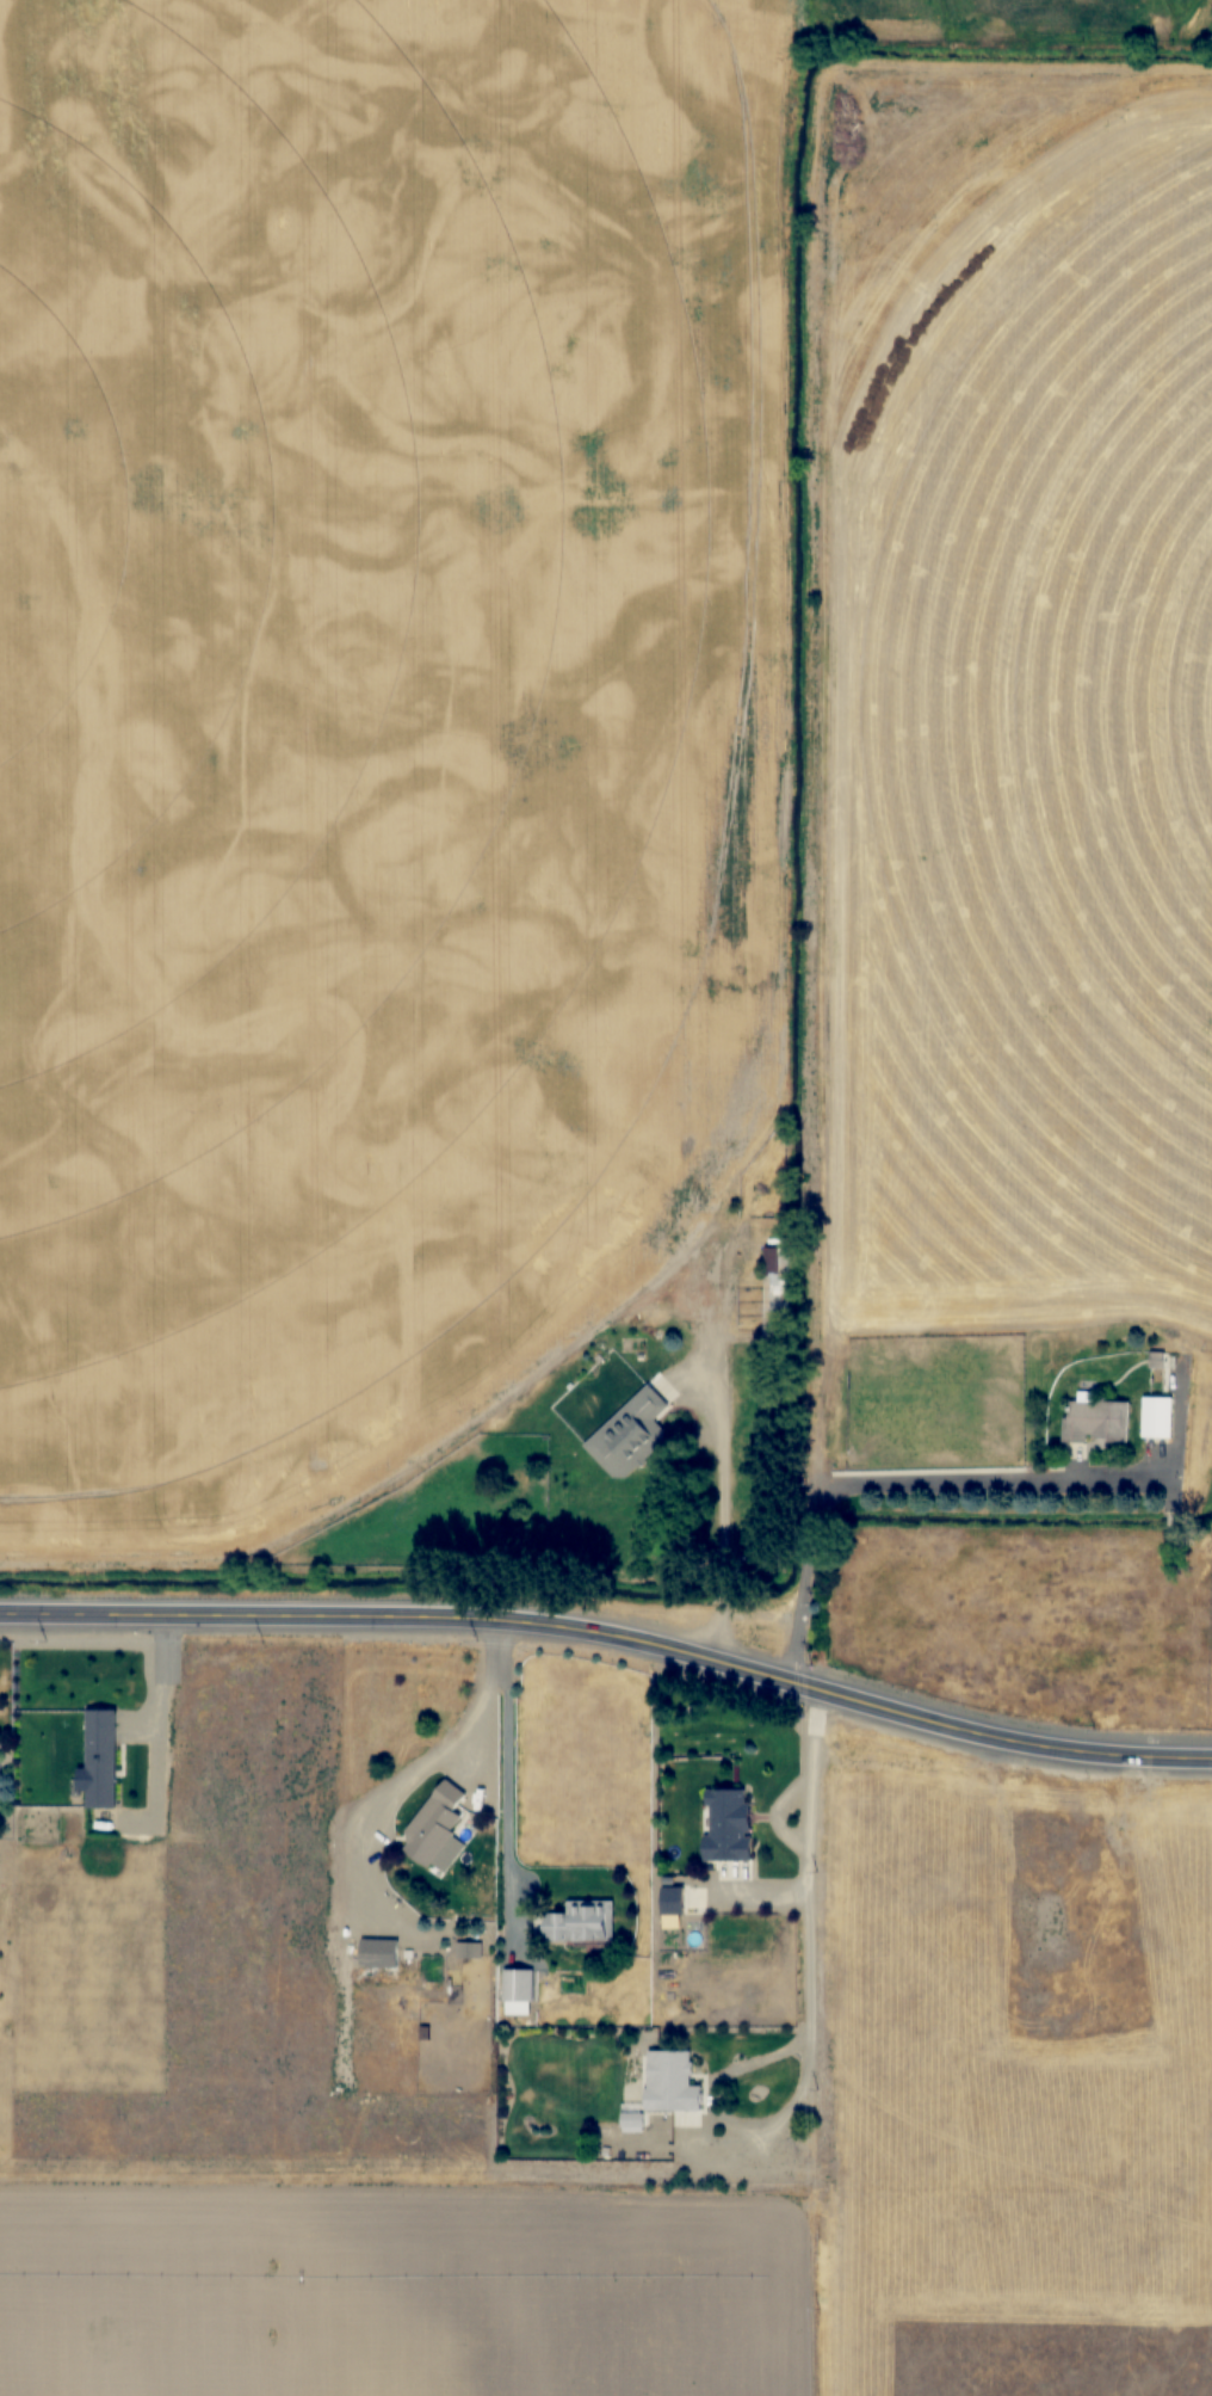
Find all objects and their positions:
crop: (1012, 703)
building: (778, 1292)
building: (1136, 1365)
building: (1157, 1419)
building: (1096, 1421)
building: (1137, 1423)
building: (631, 1435)
road: (705, 1435)
road: (945, 1485)
road: (611, 1640)
building: (100, 1758)
building: (434, 1823)
building: (728, 1825)
road: (815, 1867)
building: (581, 1923)
building: (376, 1954)
crop: (1010, 1989)
building: (519, 1992)
building: (670, 2082)
building: (632, 2121)

